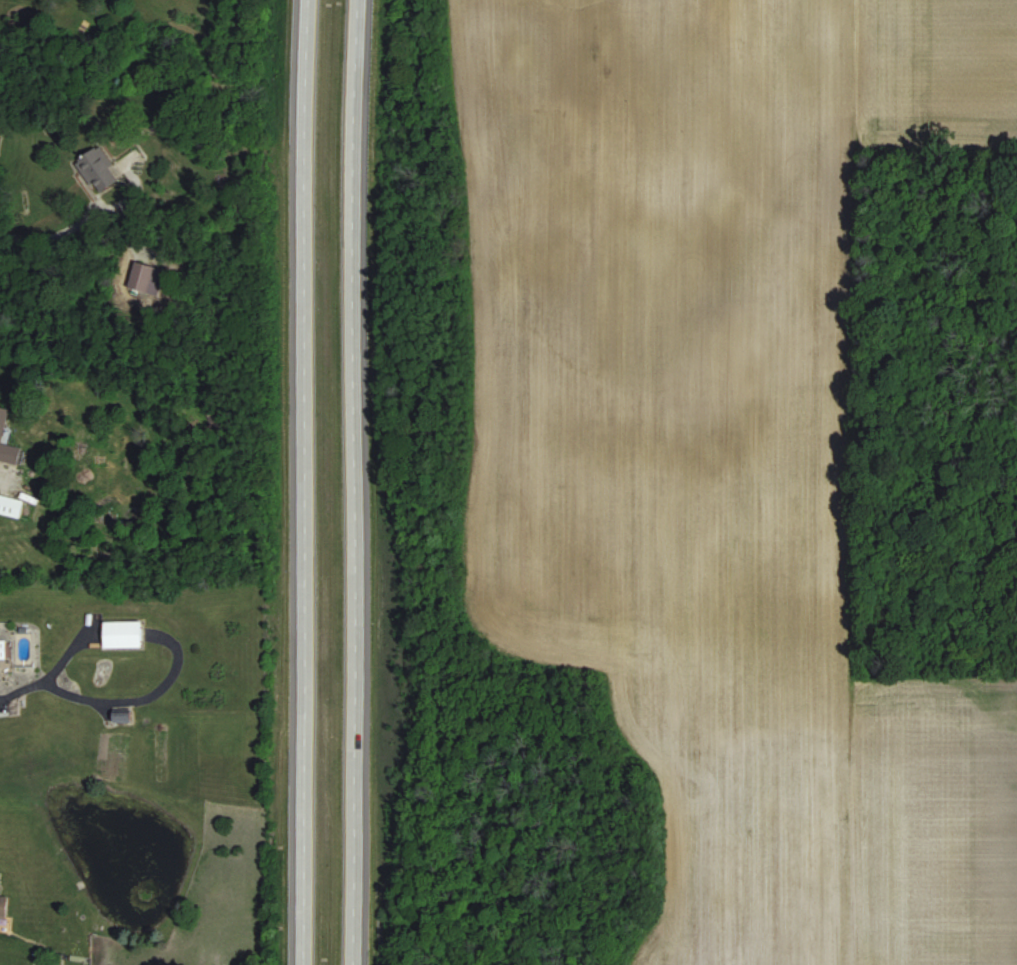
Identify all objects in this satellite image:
building: (98, 169)
road: (66, 230)
building: (146, 277)
building: (2, 424)
road: (300, 482)
road: (351, 482)
building: (10, 504)
building: (123, 633)
building: (122, 715)
building: (3, 904)

